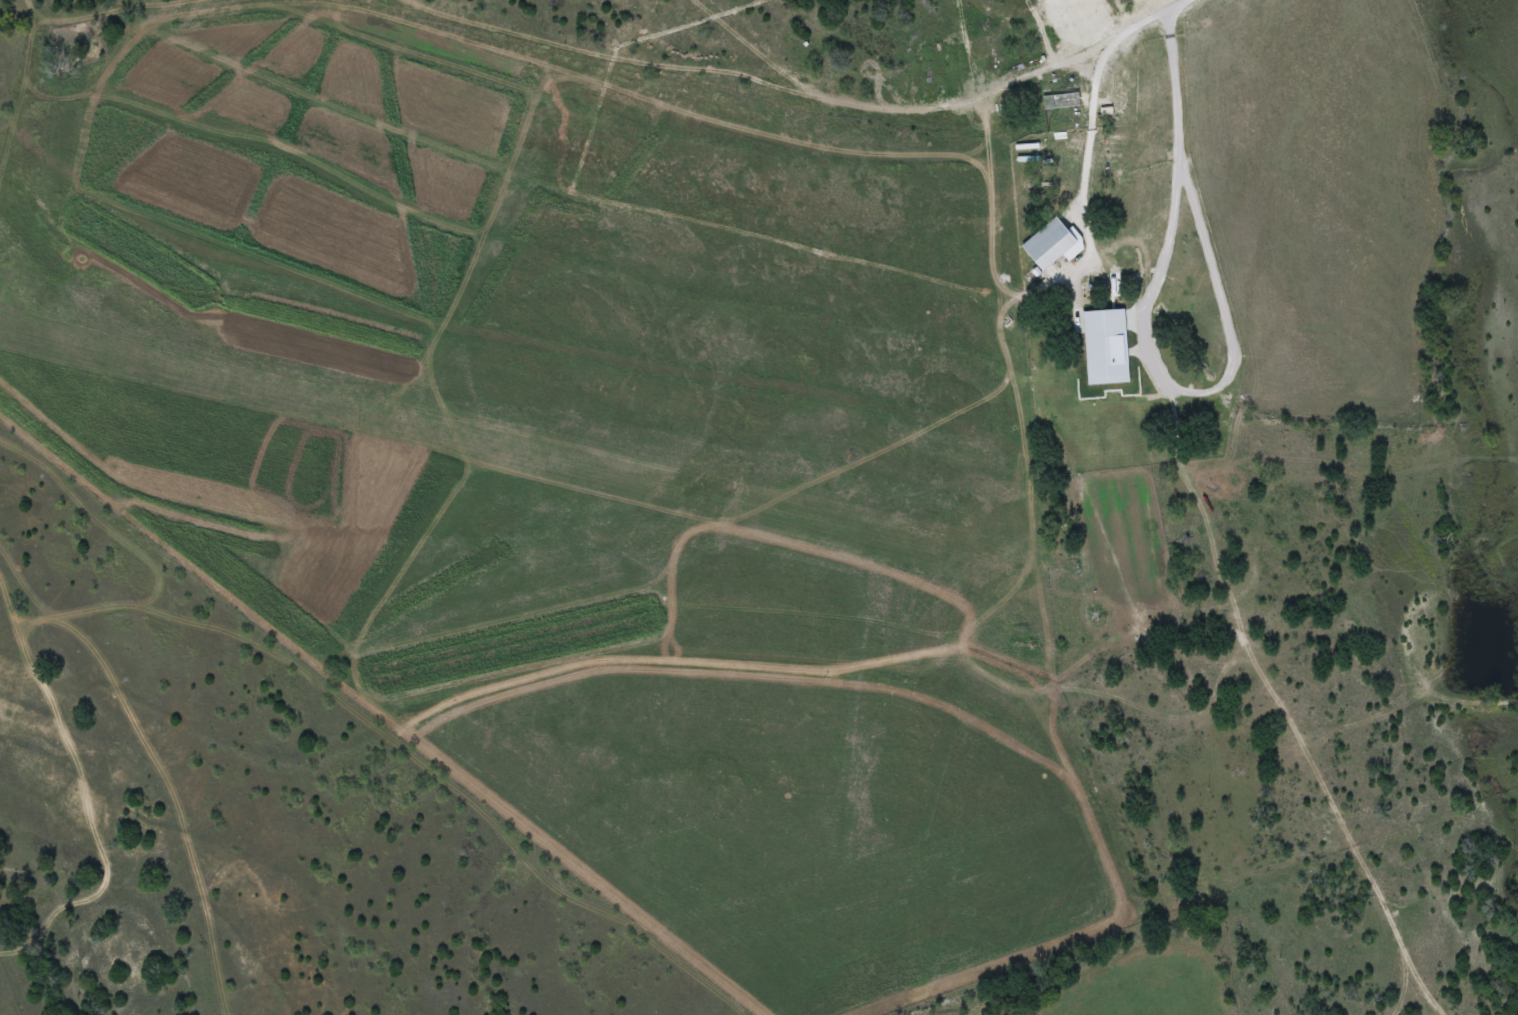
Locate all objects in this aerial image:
building: (1058, 101)
building: (1045, 244)

